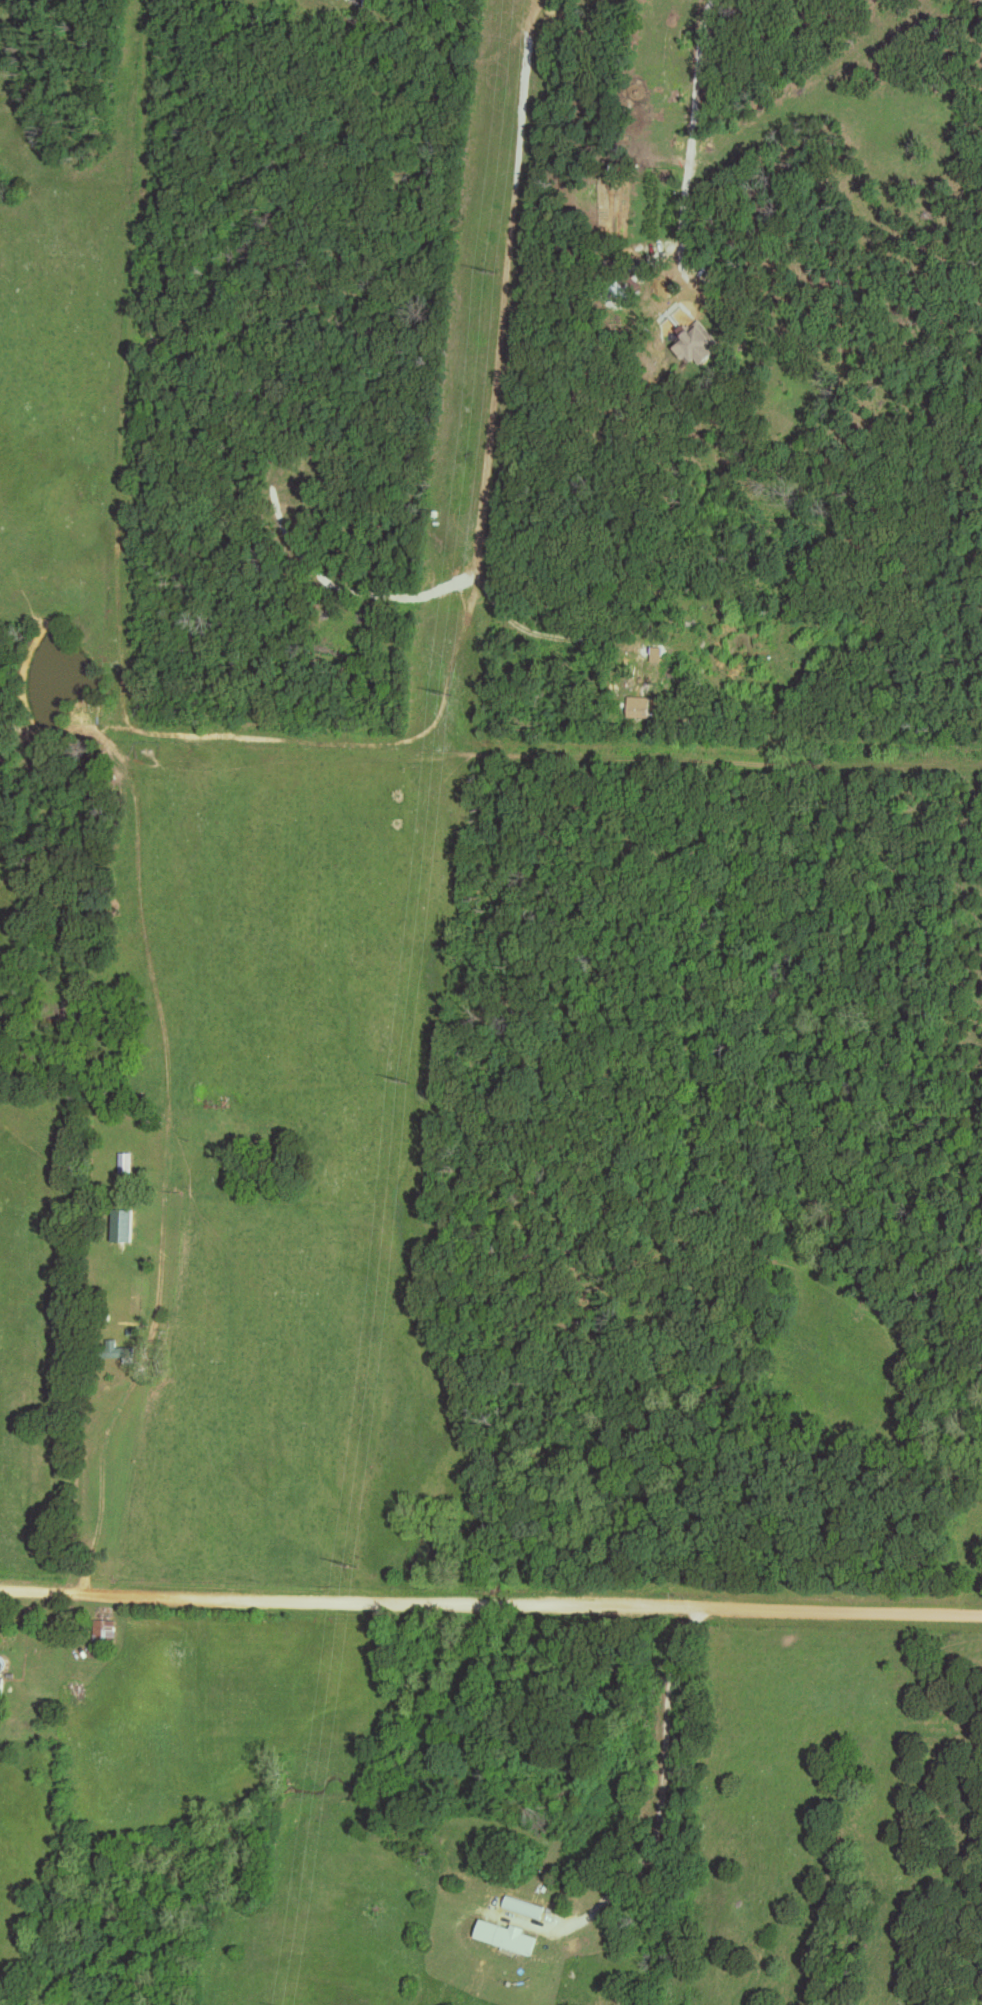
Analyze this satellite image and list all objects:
power tower: (485, 271)
building: (693, 345)
power tower: (437, 690)
power tower: (396, 1081)
building: (126, 1162)
building: (112, 1350)
power tower: (344, 1564)
road: (491, 1602)
building: (104, 1630)
building: (1, 1686)
building: (505, 1936)

